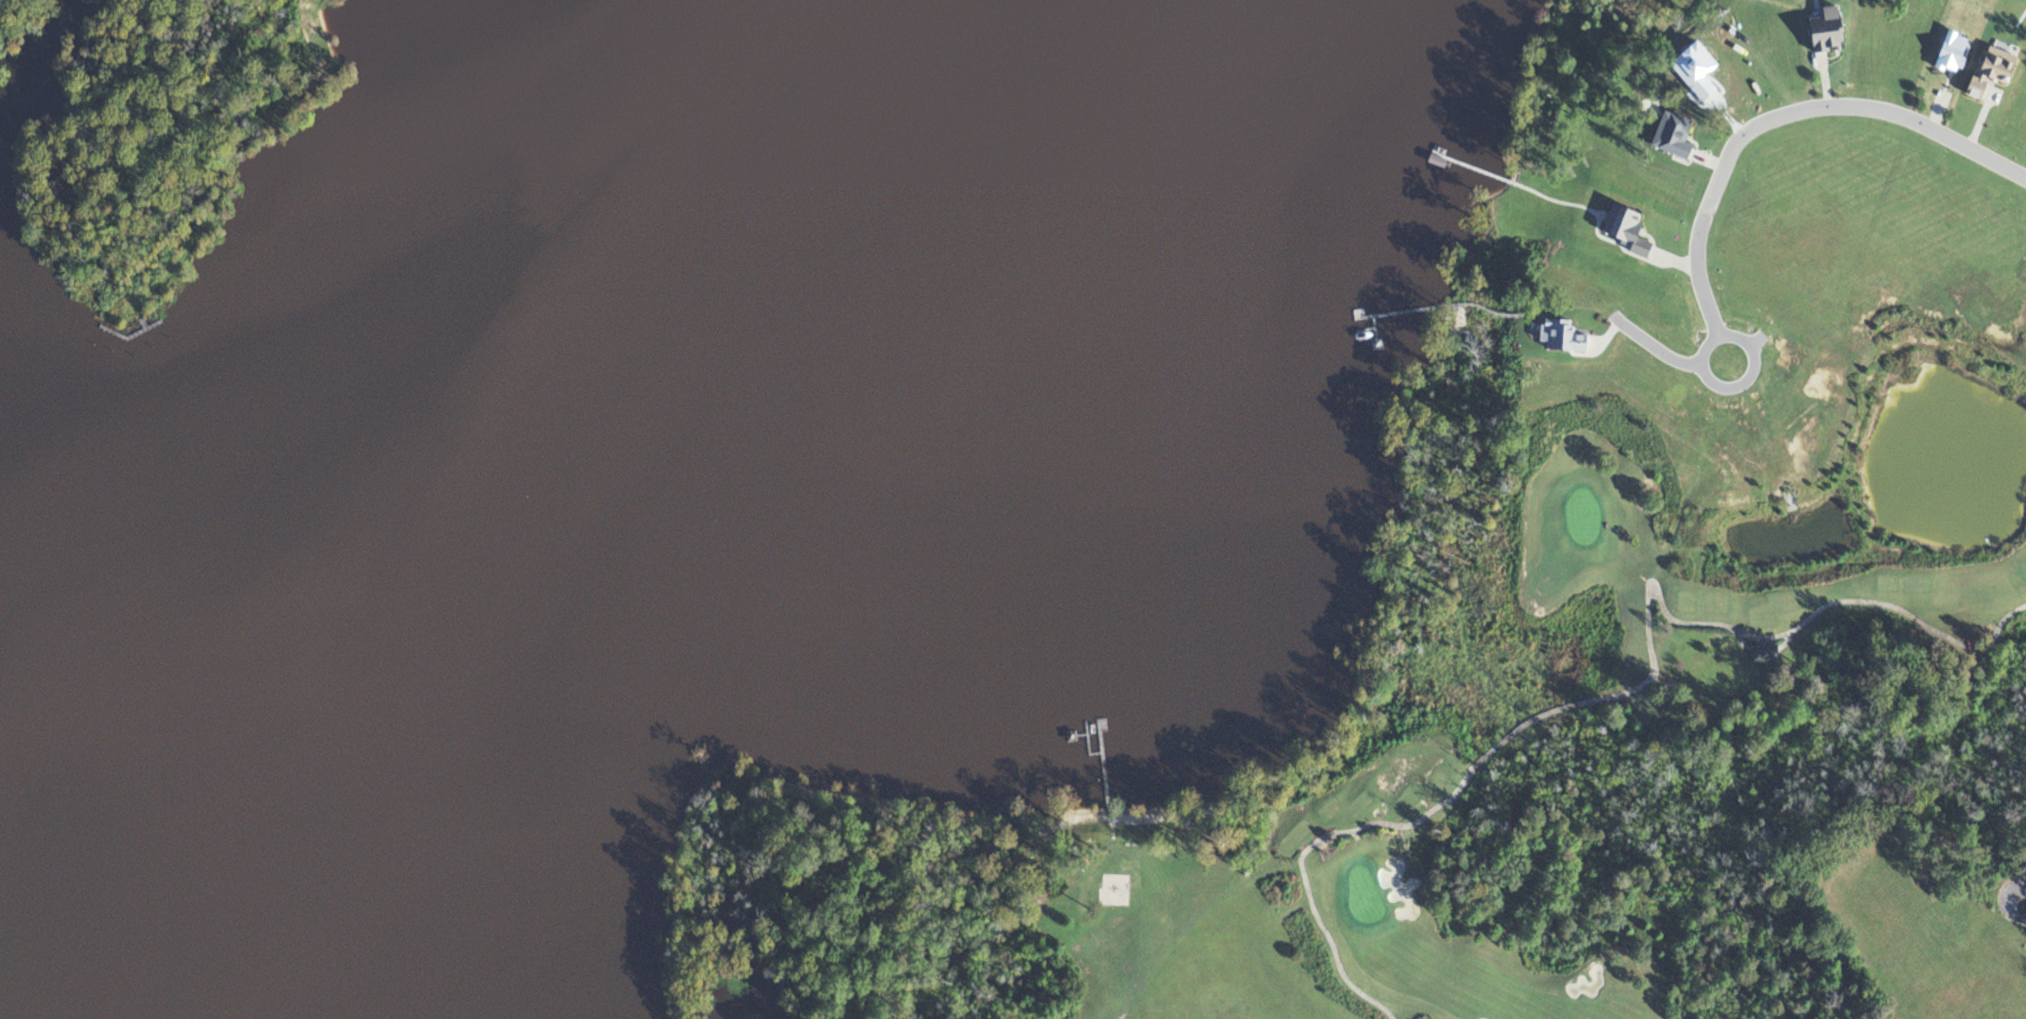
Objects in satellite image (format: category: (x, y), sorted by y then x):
park: (16, 17)
building: (1822, 39)
building: (1949, 60)
road: (1821, 88)
road: (1933, 115)
road: (1782, 118)
park: (169, 138)
building: (1665, 140)
road: (1708, 164)
building: (1623, 235)
road: (1671, 262)
road: (1750, 360)
road: (1737, 643)
road: (1781, 644)
building: (1759, 659)
road: (1625, 694)
road: (2020, 910)

